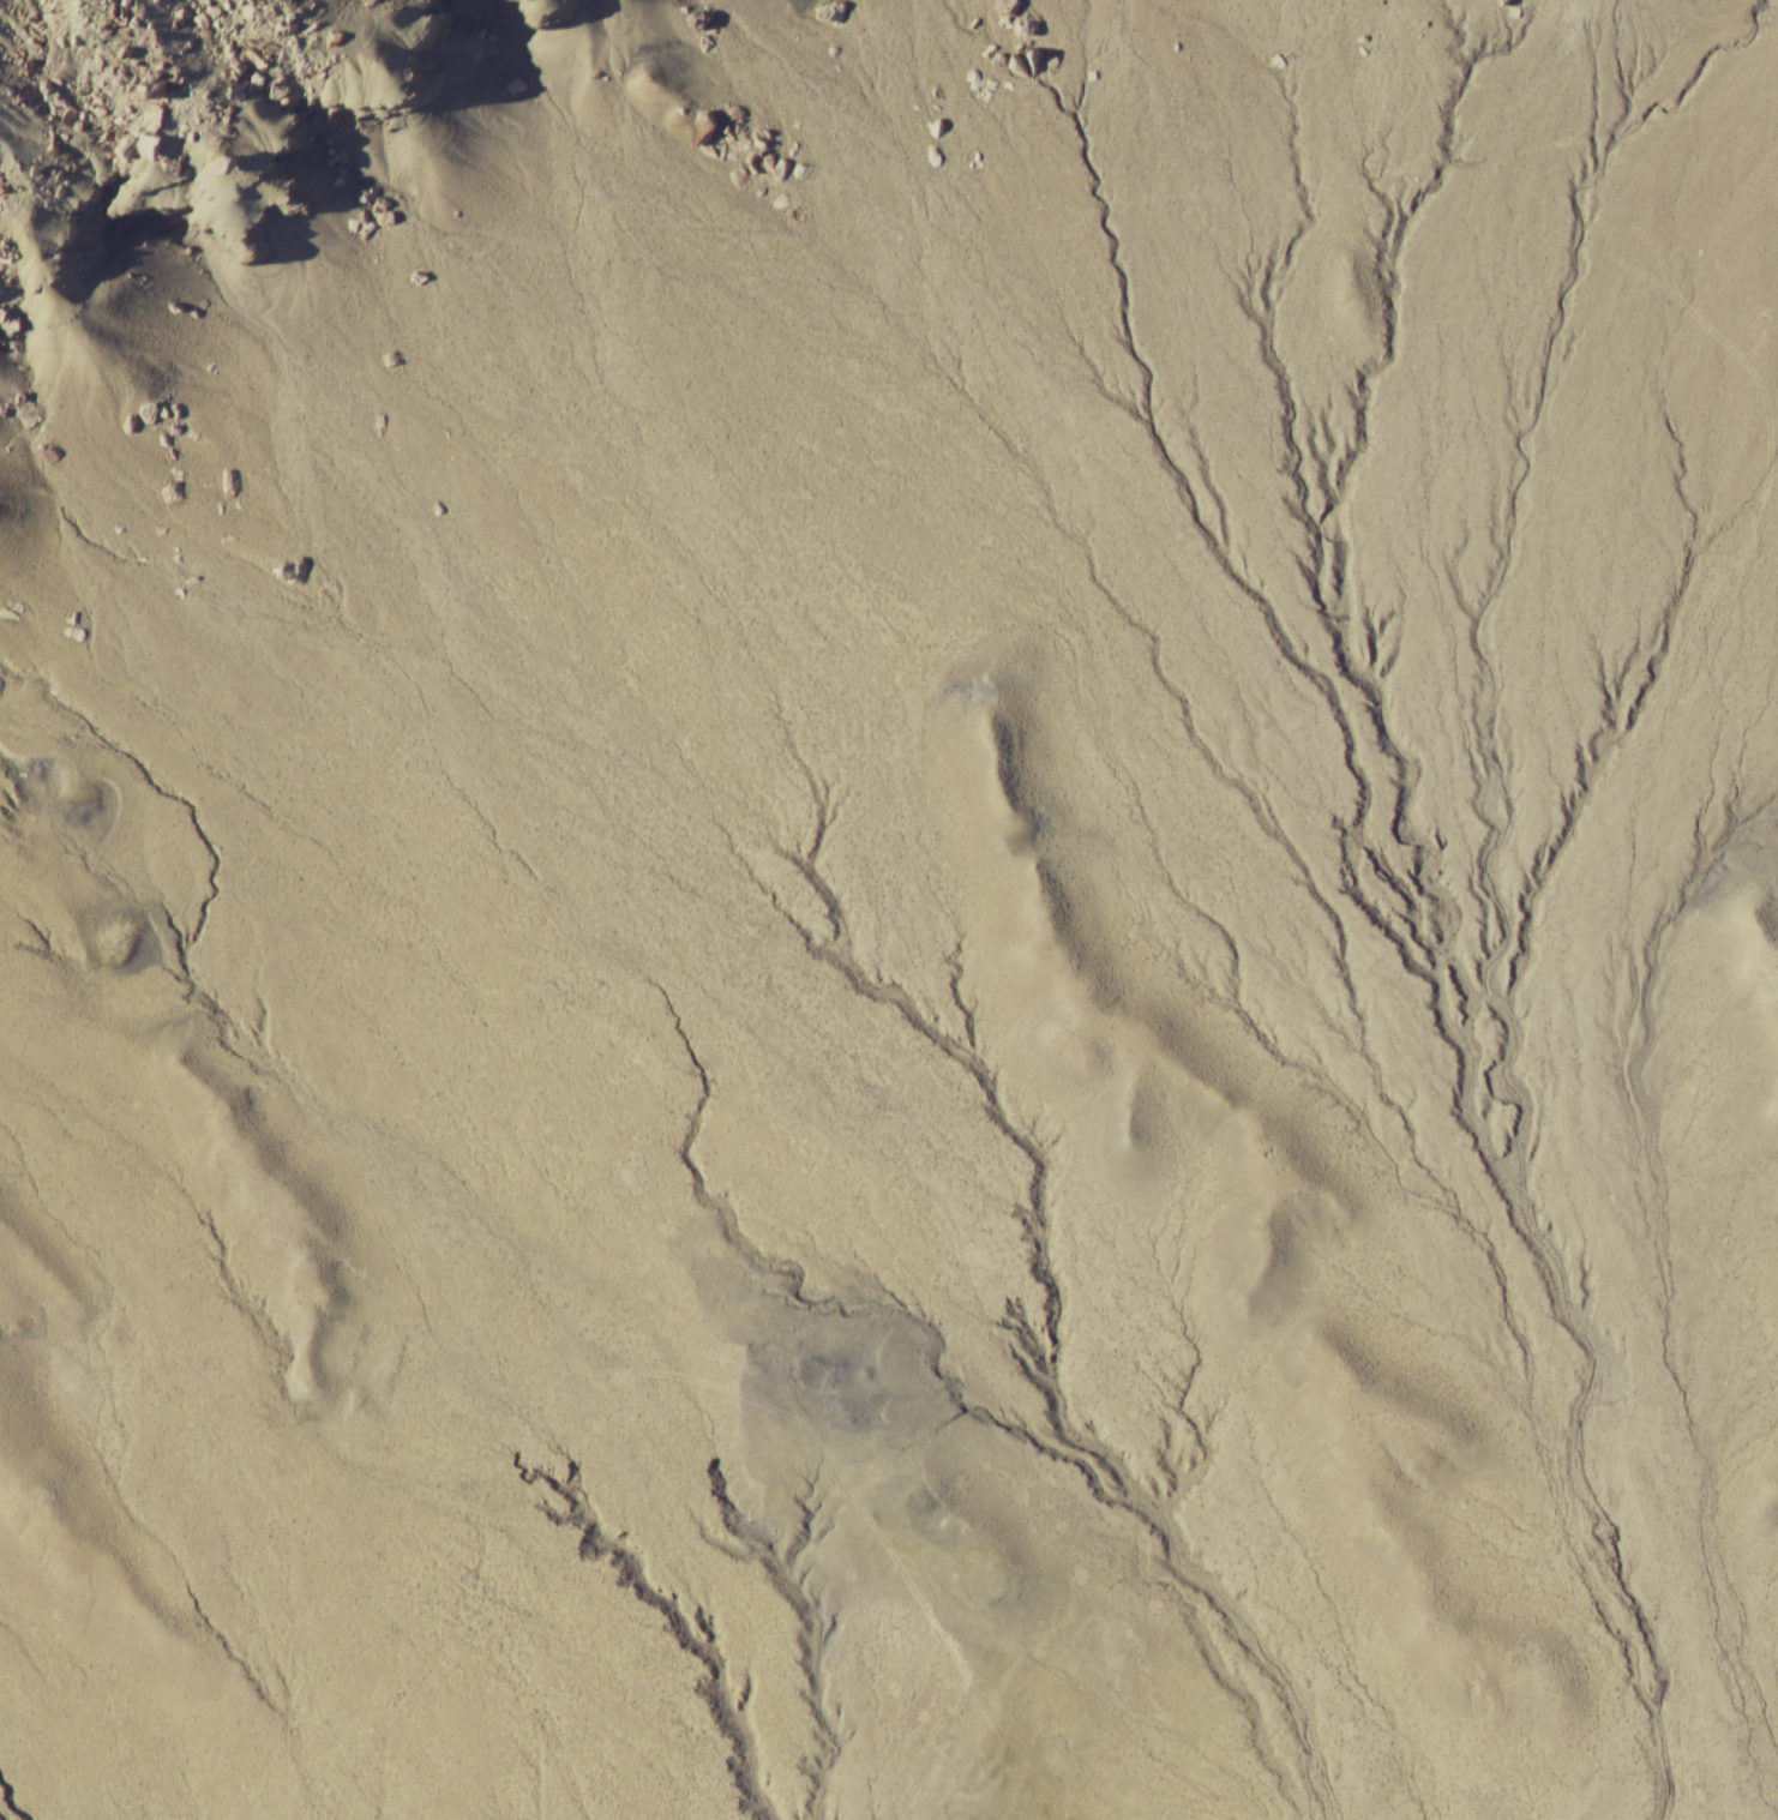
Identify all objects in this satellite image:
road: (1666, 1756)

